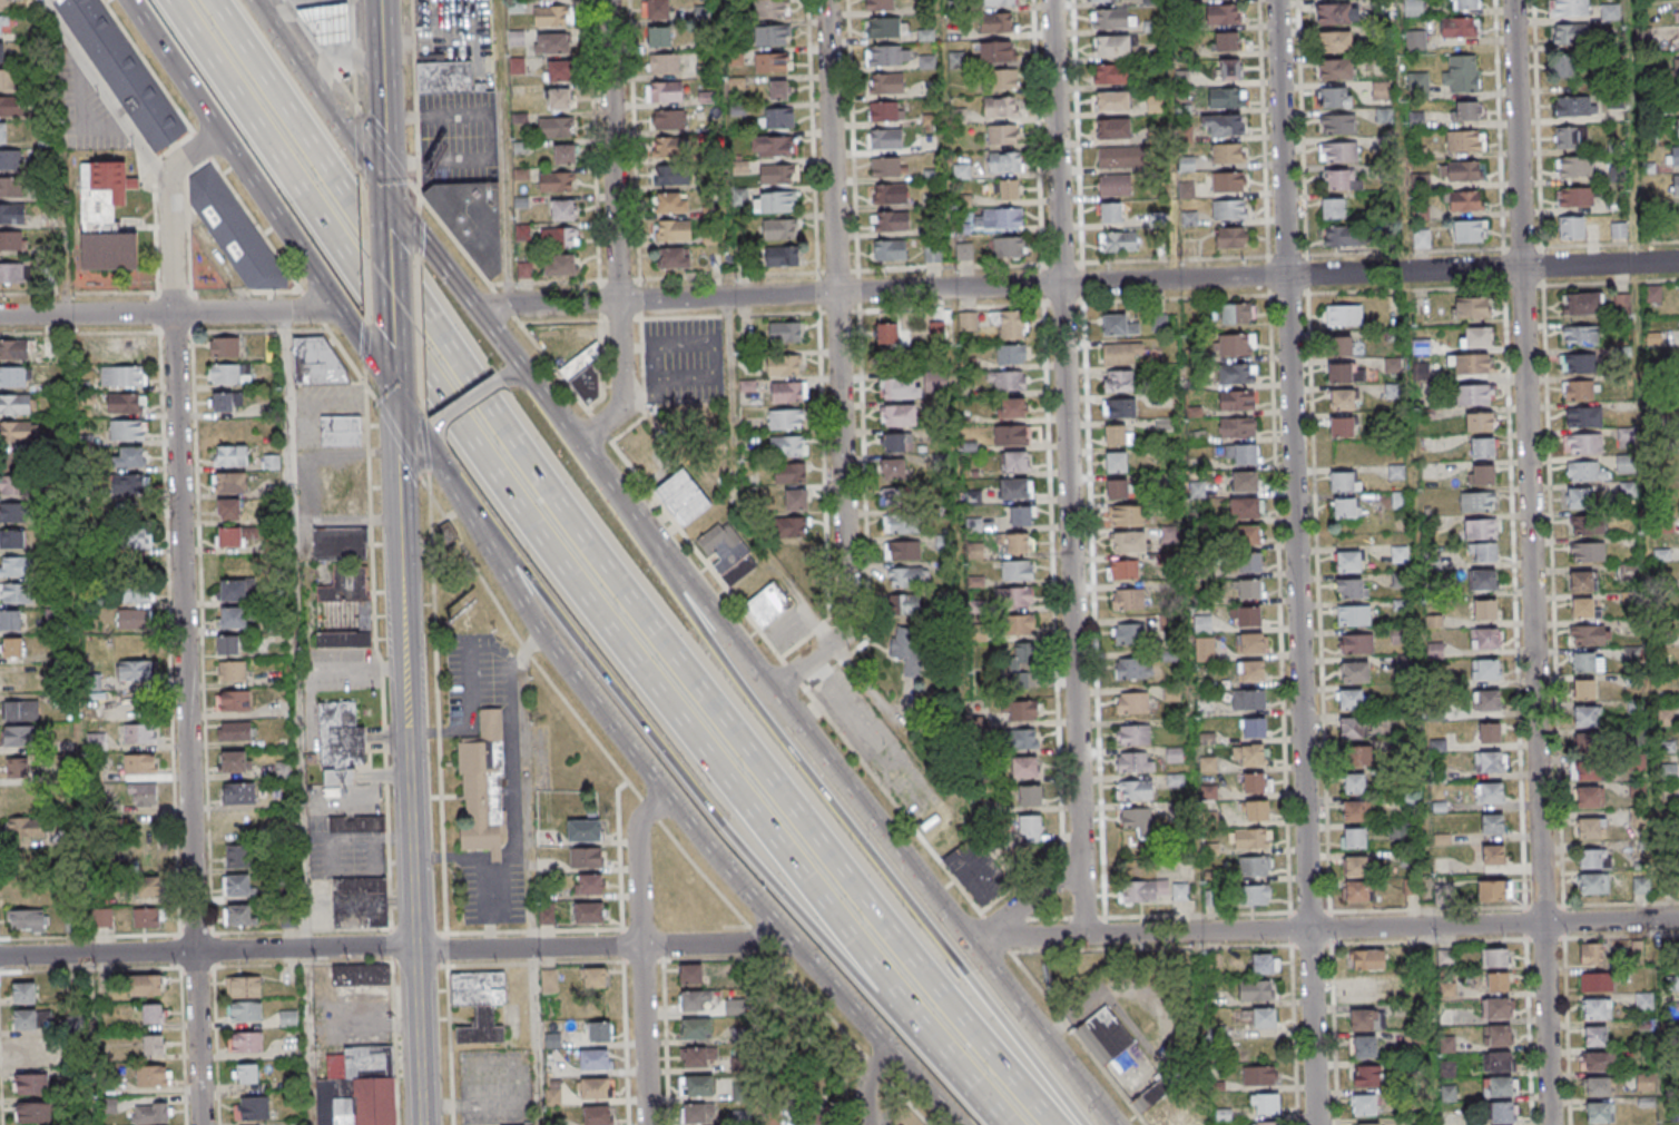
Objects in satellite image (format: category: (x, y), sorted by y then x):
building: (56, 0)
building: (998, 2)
building: (1100, 2)
building: (880, 4)
building: (1464, 4)
building: (3, 6)
building: (1413, 7)
building: (770, 8)
building: (1569, 8)
building: (656, 9)
building: (1610, 11)
building: (1225, 13)
building: (1677, 13)
building: (552, 14)
building: (1334, 14)
building: (1109, 19)
building: (331, 21)
building: (995, 22)
building: (1, 27)
building: (886, 27)
building: (1457, 28)
building: (1570, 33)
building: (772, 34)
building: (659, 36)
building: (516, 37)
building: (1416, 40)
building: (551, 42)
building: (1227, 42)
building: (1335, 42)
building: (1111, 48)
building: (995, 51)
building: (1, 53)
building: (887, 55)
building: (772, 61)
building: (664, 63)
building: (1564, 67)
building: (1230, 69)
building: (1676, 69)
building: (559, 70)
building: (1335, 70)
building: (126, 71)
building: (1110, 75)
building: (1460, 75)
building: (444, 78)
building: (1003, 79)
building: (9, 80)
building: (884, 83)
building: (1417, 85)
road: (101, 89)
building: (778, 89)
building: (1381, 90)
building: (664, 91)
building: (1226, 97)
building: (1335, 97)
building: (706, 98)
building: (559, 99)
building: (1112, 101)
building: (1676, 101)
building: (1574, 105)
building: (11, 107)
building: (1000, 107)
road: (382, 109)
building: (884, 111)
building: (1465, 111)
building: (1384, 115)
building: (777, 117)
building: (668, 119)
building: (1224, 125)
building: (1337, 125)
building: (553, 127)
building: (1677, 127)
building: (1113, 129)
building: (3, 134)
building: (1002, 136)
building: (1571, 136)
building: (884, 139)
building: (1464, 141)
building: (671, 147)
building: (773, 147)
building: (1229, 152)
building: (1339, 152)
building: (563, 154)
building: (1672, 155)
road: (234, 156)
building: (1121, 158)
building: (10, 160)
building: (1004, 164)
building: (1573, 166)
building: (885, 167)
building: (1461, 170)
building: (778, 175)
building: (669, 176)
building: (1339, 180)
building: (554, 181)
building: (1227, 181)
building: (1675, 184)
building: (1113, 186)
building: (10, 187)
traffic signals: (386, 189)
building: (1009, 190)
building: (888, 194)
building: (1575, 197)
building: (1463, 201)
building: (776, 203)
building: (671, 204)
building: (1333, 208)
building: (561, 209)
building: (1229, 210)
building: (11, 214)
building: (1110, 214)
building: (105, 218)
building: (998, 218)
building: (472, 220)
building: (888, 220)
building: (1571, 228)
road: (613, 229)
building: (778, 229)
building: (671, 230)
building: (1467, 231)
building: (237, 233)
building: (1341, 236)
building: (559, 237)
building: (1229, 238)
building: (11, 240)
building: (1118, 241)
road: (433, 247)
building: (1008, 247)
building: (888, 249)
building: (964, 251)
building: (932, 254)
building: (784, 256)
building: (672, 258)
building: (559, 265)
building: (12, 274)
road: (1080, 284)
road: (390, 287)
road: (97, 293)
building: (1581, 305)
building: (1472, 308)
road: (169, 313)
building: (1236, 314)
building: (1342, 316)
building: (968, 322)
building: (1009, 325)
building: (1115, 325)
building: (937, 330)
building: (884, 333)
building: (784, 334)
building: (1581, 336)
building: (1476, 338)
building: (1236, 344)
building: (1341, 344)
building: (224, 346)
building: (13, 349)
building: (51, 352)
building: (1120, 354)
building: (1011, 355)
road: (371, 356)
building: (315, 361)
road: (838, 363)
building: (1578, 363)
building: (1471, 364)
building: (784, 366)
road: (513, 372)
building: (1238, 372)
building: (229, 373)
building: (1346, 373)
building: (16, 376)
building: (122, 377)
building: (582, 377)
road: (397, 378)
building: (1008, 381)
building: (935, 382)
building: (1118, 382)
building: (901, 388)
building: (1580, 389)
building: (787, 393)
building: (1473, 395)
building: (1343, 398)
building: (1237, 399)
building: (227, 401)
traffic signals: (402, 402)
road: (470, 402)
building: (16, 404)
building: (125, 404)
building: (1011, 407)
building: (1119, 408)
building: (897, 415)
building: (1583, 416)
building: (785, 421)
building: (1480, 422)
building: (1237, 426)
building: (1342, 426)
road: (431, 430)
building: (17, 432)
building: (126, 432)
building: (340, 432)
building: (1010, 434)
building: (1116, 435)
building: (1624, 437)
building: (896, 442)
building: (1582, 442)
building: (1482, 446)
building: (787, 447)
building: (1243, 453)
building: (229, 455)
building: (128, 457)
building: (1015, 461)
building: (271, 462)
building: (1116, 462)
building: (1624, 463)
road: (1068, 467)
building: (891, 470)
building: (1585, 471)
building: (1395, 472)
building: (789, 474)
building: (1482, 474)
building: (1245, 481)
building: (1344, 481)
building: (229, 482)
building: (13, 484)
building: (129, 485)
building: (343, 487)
building: (1014, 487)
building: (1117, 489)
building: (897, 496)
building: (683, 499)
building: (1577, 499)
building: (795, 500)
building: (1476, 501)
building: (228, 507)
building: (1245, 507)
building: (1346, 507)
building: (13, 513)
building: (1126, 514)
building: (1022, 515)
building: (902, 523)
building: (1585, 526)
building: (789, 529)
building: (1476, 529)
building: (1246, 534)
building: (235, 535)
building: (132, 536)
building: (12, 539)
road: (661, 542)
building: (943, 542)
building: (1015, 542)
building: (1128, 542)
building: (342, 543)
building: (902, 550)
building: (1484, 552)
building: (1587, 553)
building: (728, 554)
building: (1348, 561)
road: (1295, 562)
road: (1530, 562)
building: (1250, 563)
building: (16, 565)
road: (710, 565)
building: (1126, 569)
building: (1017, 570)
road: (577, 571)
road: (619, 574)
building: (909, 576)
building: (1483, 580)
building: (1582, 581)
building: (1351, 588)
building: (1248, 590)
building: (233, 591)
building: (135, 592)
building: (16, 593)
building: (1014, 595)
building: (1129, 599)
building: (905, 603)
building: (767, 606)
building: (345, 608)
building: (1584, 608)
building: (1484, 611)
building: (1354, 614)
road: (187, 616)
building: (1247, 618)
building: (232, 619)
building: (10, 620)
building: (132, 620)
building: (1168, 623)
building: (1017, 624)
building: (1202, 624)
building: (1130, 634)
building: (1588, 634)
building: (1484, 639)
building: (1249, 643)
building: (1356, 643)
building: (227, 644)
building: (13, 647)
building: (909, 649)
building: (1205, 650)
building: (1023, 660)
building: (1588, 661)
building: (1132, 669)
building: (135, 670)
building: (232, 670)
building: (1250, 670)
building: (1484, 670)
building: (1355, 671)
road: (411, 674)
building: (1583, 689)
road: (508, 690)
building: (1248, 699)
building: (1352, 699)
building: (233, 700)
building: (1485, 701)
building: (1132, 703)
building: (20, 709)
road: (517, 710)
building: (1021, 710)
building: (1584, 716)
road: (300, 718)
road: (80, 719)
building: (1254, 727)
building: (1352, 728)
building: (235, 730)
building: (1489, 732)
building: (139, 733)
building: (18, 734)
building: (1133, 736)
building: (1022, 739)
building: (340, 742)
building: (1587, 742)
road: (630, 743)
building: (1248, 754)
building: (1358, 754)
building: (886, 757)
building: (235, 761)
building: (1489, 761)
building: (1135, 762)
building: (139, 764)
building: (16, 767)
building: (1023, 767)
building: (1585, 770)
building: (1256, 781)
building: (1355, 782)
building: (483, 788)
building: (1136, 790)
building: (238, 792)
road: (690, 792)
building: (1487, 792)
building: (143, 795)
building: (1028, 797)
building: (1588, 797)
building: (1255, 810)
building: (1354, 810)
road: (842, 815)
building: (1638, 816)
building: (1136, 820)
building: (1492, 822)
building: (355, 825)
building: (144, 826)
building: (26, 827)
building: (1590, 828)
building: (583, 830)
building: (1028, 830)
building: (1251, 838)
building: (1353, 839)
building: (147, 855)
building: (1493, 855)
building: (237, 856)
building: (585, 857)
building: (1593, 859)
road: (911, 860)
building: (1255, 866)
building: (1355, 867)
road: (483, 871)
road: (529, 871)
building: (978, 874)
building: (589, 884)
building: (238, 885)
building: (1592, 885)
building: (1640, 885)
building: (145, 886)
building: (1493, 890)
building: (1143, 891)
building: (1356, 892)
building: (1257, 894)
road: (1027, 895)
building: (360, 901)
building: (587, 911)
building: (546, 914)
building: (236, 915)
building: (102, 917)
building: (146, 918)
building: (27, 920)
road: (1323, 929)
road: (395, 948)
building: (1590, 954)
road: (647, 956)
building: (1494, 959)
building: (1367, 960)
building: (1265, 963)
building: (690, 974)
building: (361, 975)
building: (592, 978)
building: (1597, 981)
building: (1498, 983)
building: (145, 985)
building: (243, 987)
building: (1257, 989)
building: (23, 991)
building: (1361, 991)
building: (691, 1000)
building: (479, 1005)
building: (1495, 1008)
building: (1595, 1008)
building: (244, 1010)
building: (151, 1013)
building: (45, 1014)
building: (1265, 1017)
building: (24, 1018)
building: (287, 1018)
building: (1366, 1019)
building: (695, 1028)
building: (598, 1033)
building: (1496, 1035)
road: (423, 1036)
building: (1594, 1036)
building: (1104, 1037)
building: (245, 1042)
building: (154, 1044)
building: (31, 1045)
building: (1364, 1046)
building: (695, 1056)
building: (592, 1060)
building: (1496, 1062)
building: (1598, 1062)
building: (737, 1064)
building: (244, 1073)
building: (153, 1075)
building: (1259, 1075)
building: (1366, 1075)
building: (1644, 1082)
building: (30, 1083)
building: (696, 1085)
road: (870, 1085)
building: (359, 1086)
building: (1597, 1086)
building: (1499, 1087)
building: (593, 1088)
road: (926, 1091)
building: (553, 1094)
building: (1364, 1104)
building: (1265, 1105)
building: (251, 1107)
building: (32, 1112)
building: (150, 1113)
building: (695, 1113)
building: (1502, 1113)
building: (1598, 1113)
building: (597, 1116)
building: (742, 1117)
building: (1263, 1124)
building: (1367, 1124)

